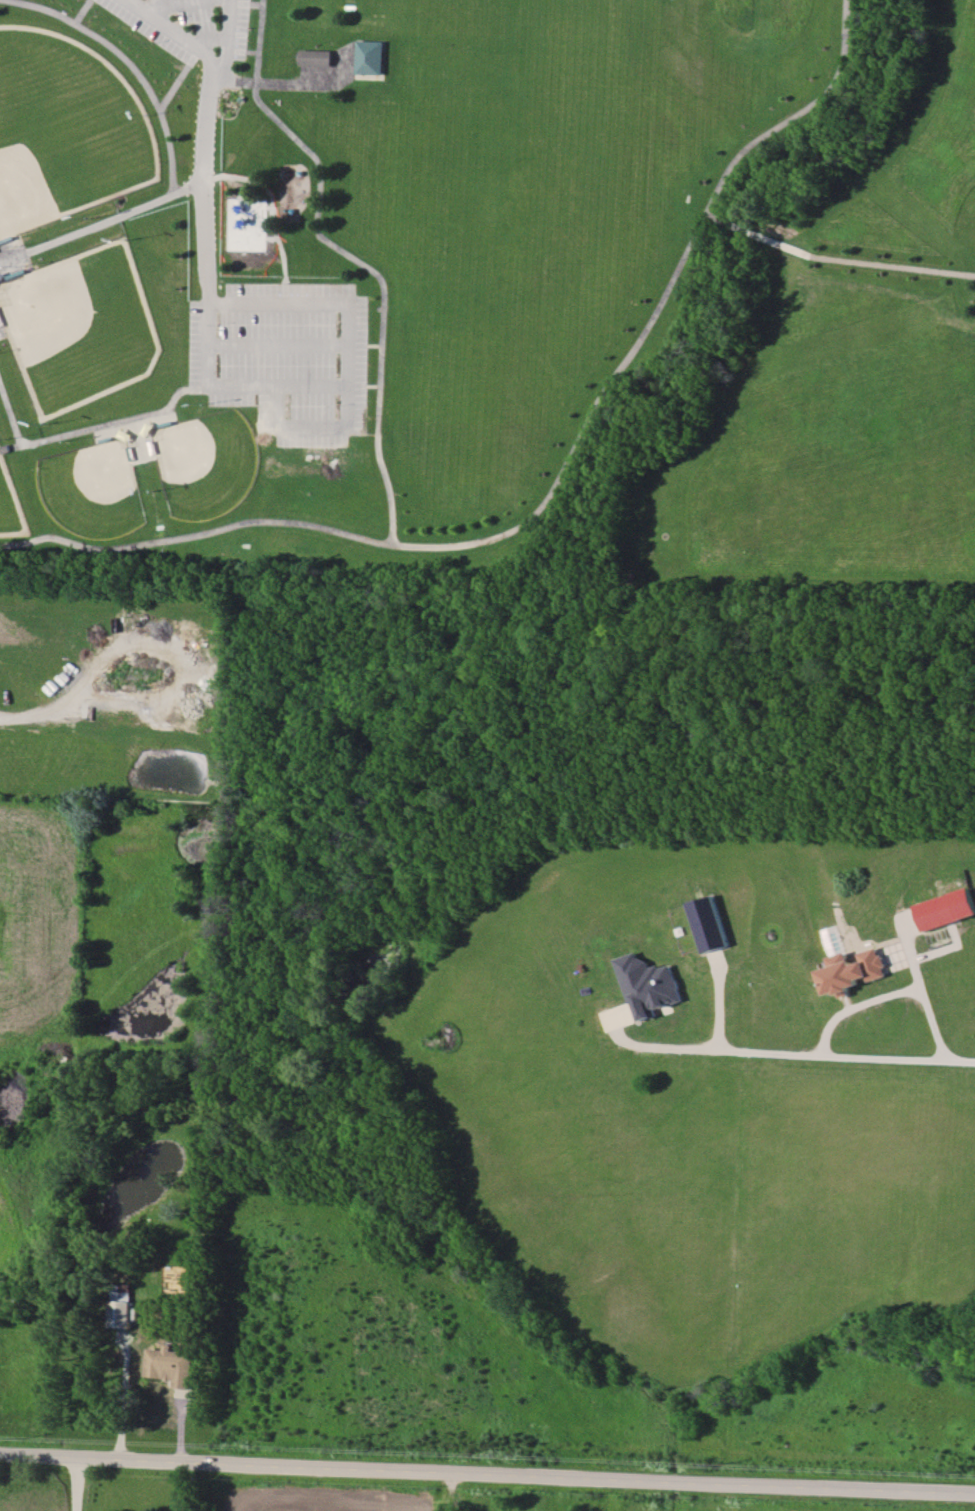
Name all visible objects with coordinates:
road: (168, 4)
parking lot: (191, 27)
road: (227, 37)
road: (210, 38)
building: (372, 57)
building: (318, 58)
park: (67, 130)
road: (203, 171)
road: (721, 222)
road: (101, 223)
road: (745, 231)
road: (863, 263)
road: (657, 314)
park: (457, 323)
park: (83, 328)
parking lot: (298, 361)
road: (379, 443)
park: (207, 464)
park: (99, 490)
park: (12, 501)
road: (40, 713)
building: (947, 909)
building: (710, 924)
building: (853, 971)
building: (648, 984)
road: (894, 994)
road: (795, 1052)
crop: (601, 1086)
crop: (852, 1200)
building: (122, 1305)
building: (171, 1366)
road: (487, 1465)
road: (77, 1481)

